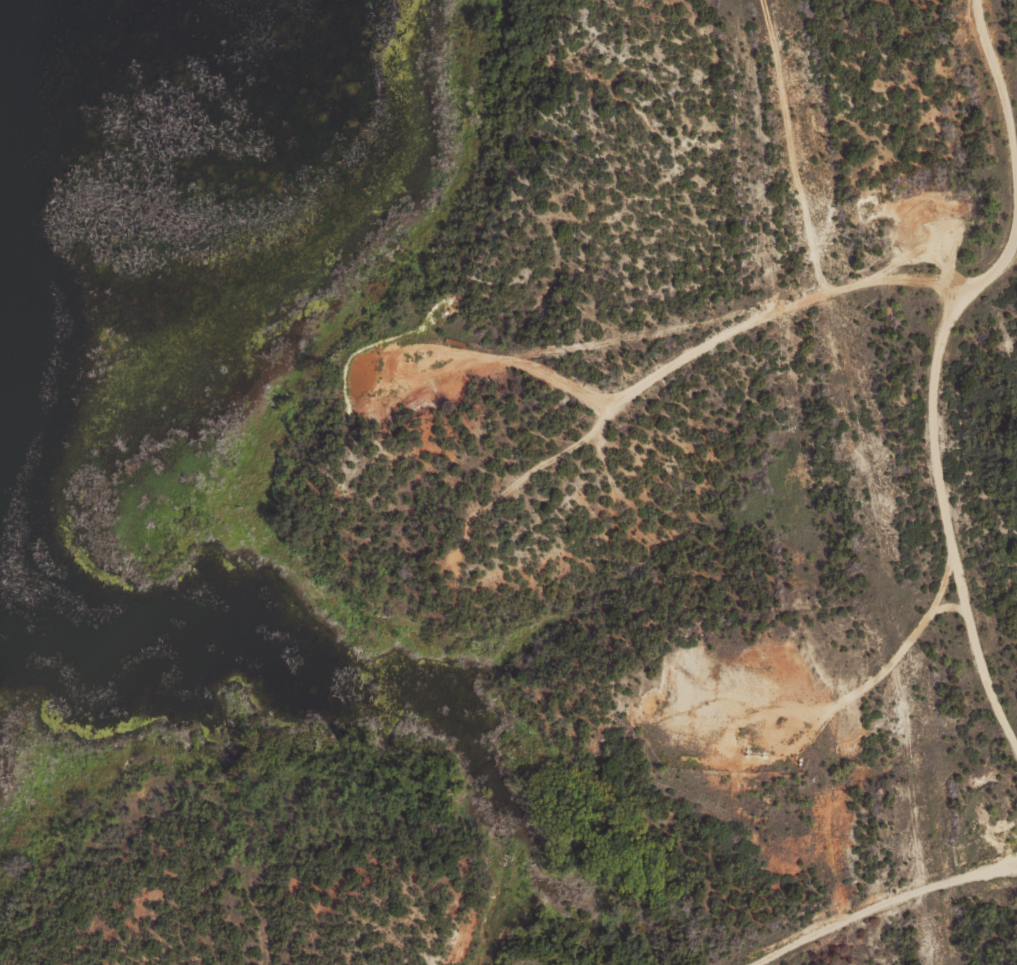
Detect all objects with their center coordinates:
road: (707, 331)
road: (934, 357)
road: (215, 892)
road: (868, 904)

